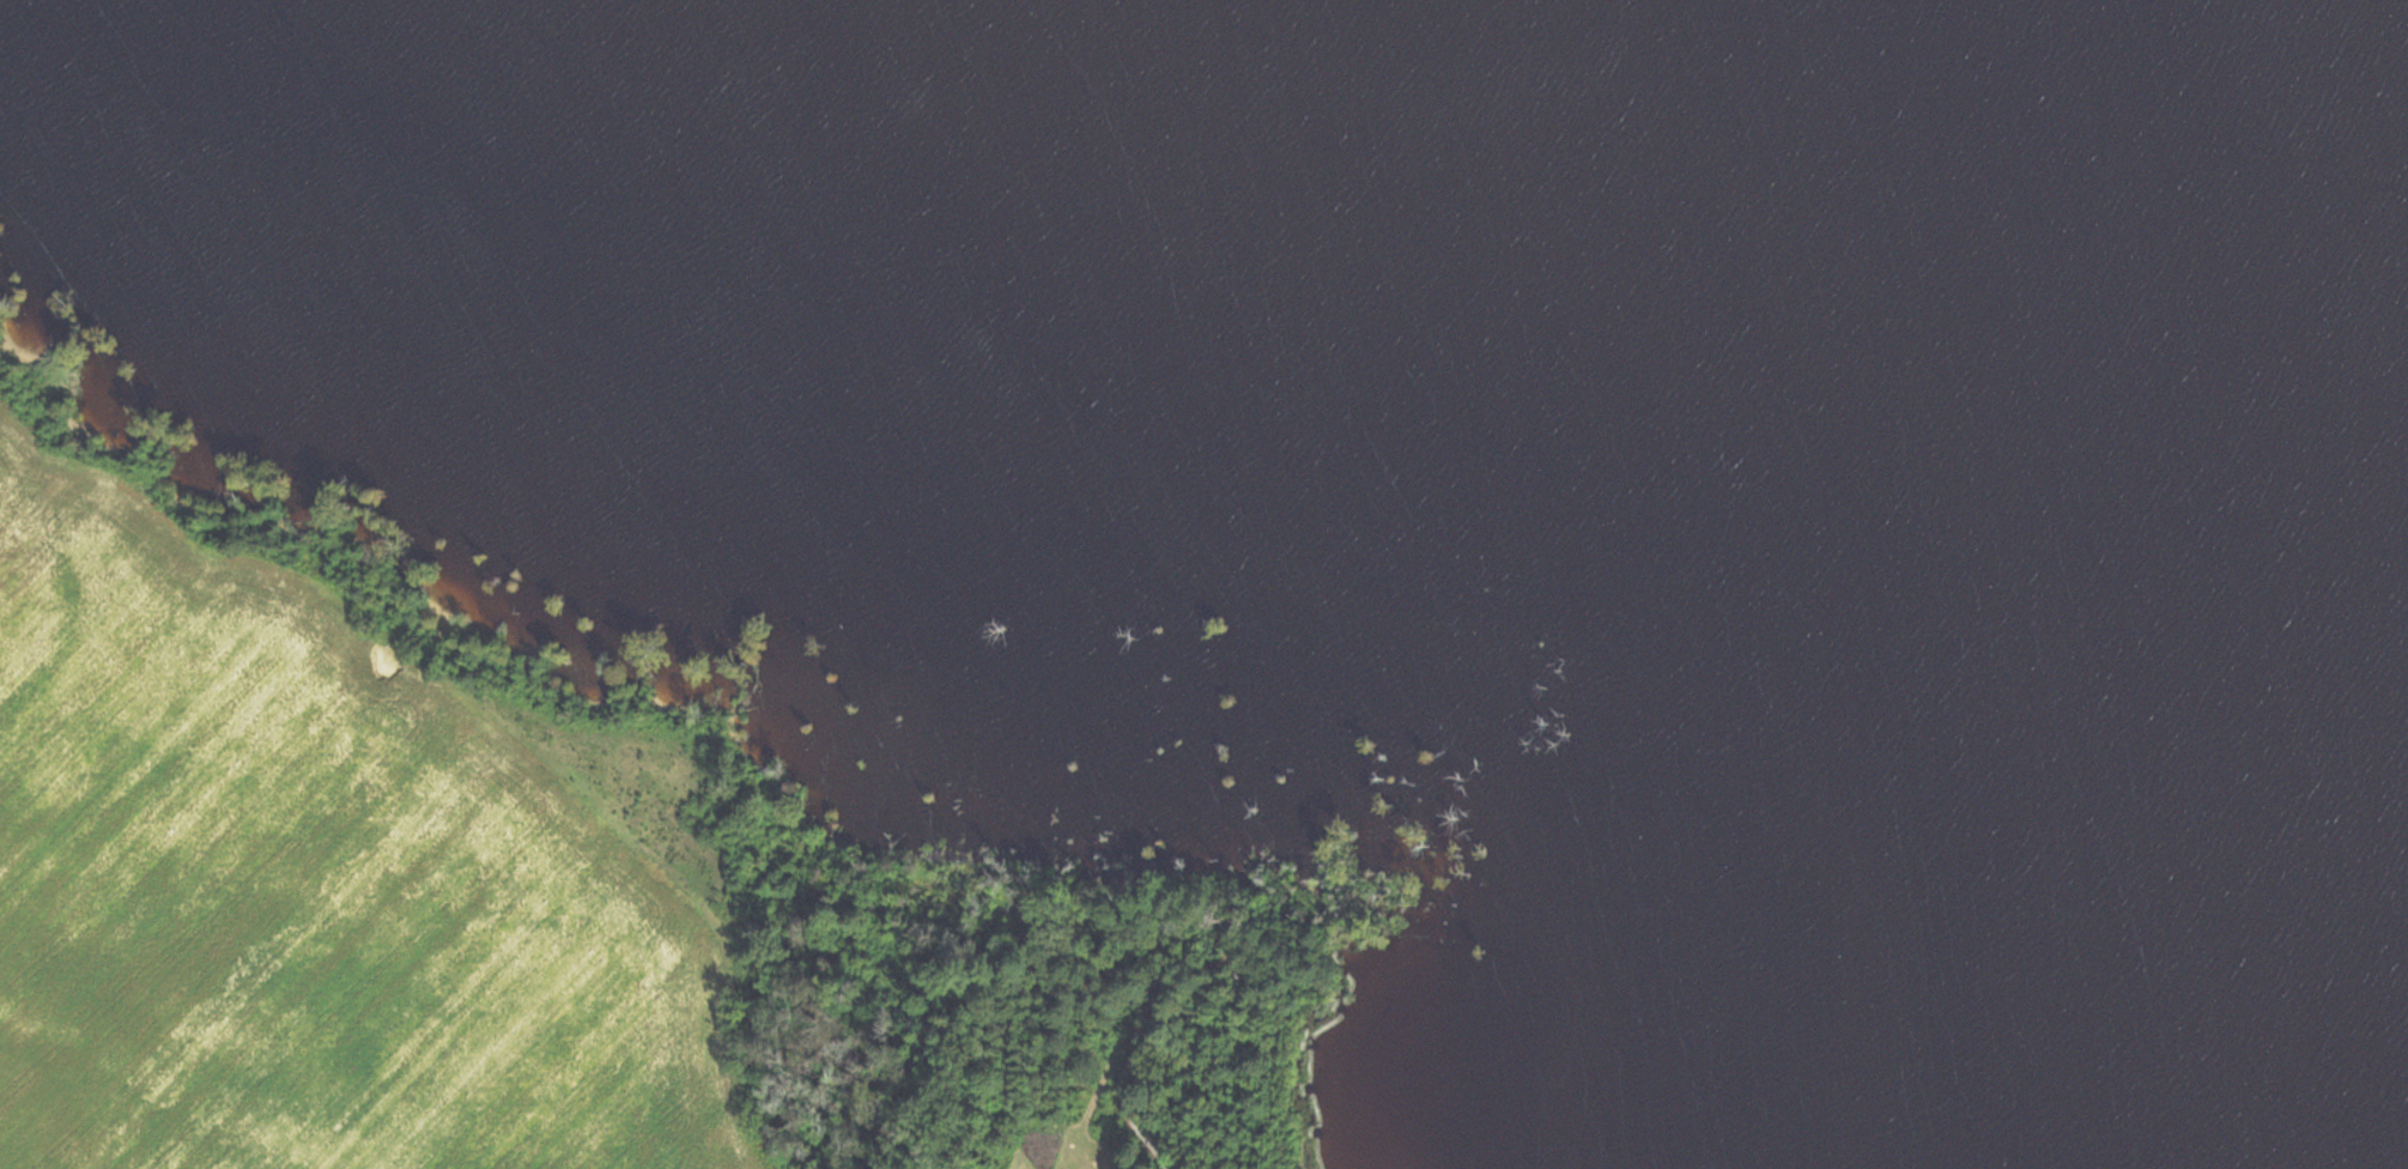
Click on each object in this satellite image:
road: (1120, 1159)

